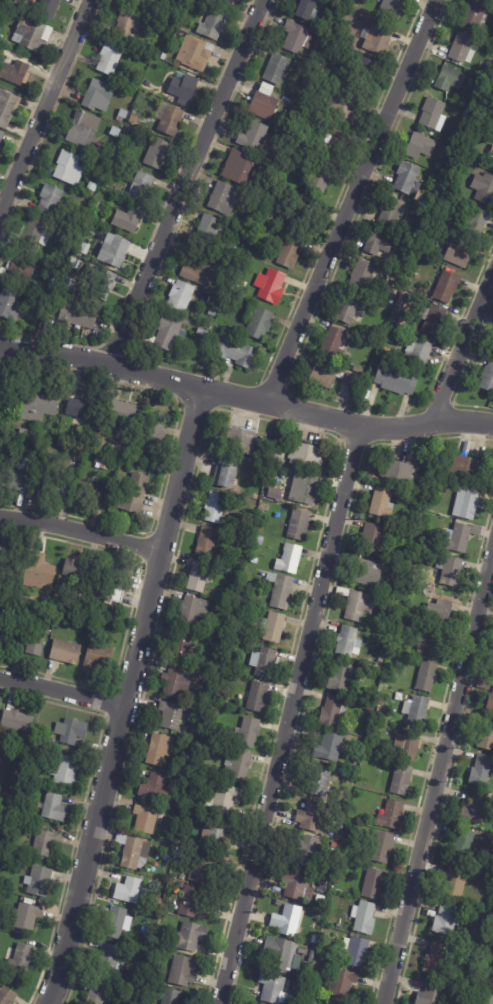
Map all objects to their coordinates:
building: (143, 1)
building: (226, 2)
building: (48, 8)
building: (394, 8)
building: (306, 9)
building: (146, 14)
building: (476, 14)
building: (213, 25)
building: (129, 26)
building: (32, 34)
building: (297, 38)
building: (378, 39)
building: (462, 47)
building: (193, 54)
building: (110, 59)
building: (277, 69)
building: (15, 73)
building: (366, 74)
building: (450, 79)
building: (184, 89)
building: (99, 96)
building: (477, 97)
building: (265, 103)
building: (344, 107)
building: (8, 108)
road: (44, 109)
building: (434, 115)
building: (122, 116)
building: (466, 119)
building: (171, 121)
building: (84, 130)
building: (116, 132)
building: (1, 137)
building: (256, 137)
building: (333, 140)
building: (421, 146)
building: (158, 154)
building: (491, 159)
building: (99, 163)
building: (69, 169)
building: (242, 170)
building: (320, 178)
building: (408, 178)
road: (190, 182)
building: (93, 187)
building: (142, 188)
building: (484, 189)
building: (274, 198)
building: (223, 199)
building: (50, 201)
road: (357, 201)
building: (297, 212)
building: (391, 212)
building: (442, 217)
building: (128, 221)
building: (475, 223)
building: (207, 231)
building: (33, 234)
building: (283, 236)
building: (87, 240)
building: (379, 243)
building: (114, 251)
building: (290, 253)
building: (458, 255)
building: (246, 261)
building: (22, 268)
building: (200, 274)
building: (363, 275)
building: (101, 280)
building: (63, 287)
building: (271, 287)
building: (447, 288)
building: (181, 298)
building: (9, 305)
building: (352, 308)
building: (400, 311)
building: (212, 313)
building: (79, 316)
building: (111, 316)
building: (433, 320)
building: (260, 325)
building: (170, 332)
building: (202, 333)
building: (370, 341)
building: (334, 344)
building: (386, 351)
building: (235, 352)
road: (465, 353)
building: (492, 353)
building: (418, 354)
building: (326, 375)
building: (488, 379)
building: (352, 381)
building: (398, 381)
building: (0, 389)
road: (245, 397)
building: (37, 406)
building: (125, 407)
building: (82, 408)
building: (24, 433)
building: (151, 437)
building: (240, 440)
building: (468, 448)
building: (100, 449)
building: (79, 450)
building: (124, 455)
building: (255, 456)
building: (307, 456)
building: (136, 457)
building: (106, 460)
building: (466, 467)
building: (226, 473)
building: (398, 473)
building: (18, 478)
building: (54, 486)
building: (309, 488)
building: (94, 492)
building: (135, 493)
building: (285, 497)
building: (382, 503)
building: (467, 503)
building: (267, 506)
building: (216, 507)
building: (299, 524)
road: (80, 532)
building: (373, 538)
building: (458, 538)
building: (260, 540)
building: (207, 542)
building: (6, 557)
building: (290, 559)
building: (76, 568)
building: (226, 568)
building: (452, 571)
building: (38, 573)
building: (367, 573)
building: (200, 576)
building: (401, 579)
building: (281, 590)
building: (64, 592)
building: (113, 592)
building: (245, 596)
building: (356, 604)
building: (191, 611)
building: (438, 613)
building: (392, 619)
building: (0, 625)
building: (401, 626)
building: (274, 627)
building: (6, 637)
building: (32, 641)
building: (433, 641)
building: (349, 642)
building: (182, 645)
building: (66, 651)
building: (229, 651)
building: (98, 656)
building: (381, 659)
building: (264, 662)
building: (227, 665)
building: (427, 676)
building: (341, 677)
building: (223, 680)
building: (175, 681)
road: (61, 689)
road: (125, 696)
building: (259, 697)
building: (490, 704)
building: (369, 709)
building: (417, 710)
building: (332, 711)
building: (216, 713)
building: (171, 715)
road: (290, 715)
building: (18, 721)
building: (71, 731)
building: (238, 731)
building: (250, 732)
building: (194, 733)
building: (487, 735)
building: (52, 741)
building: (409, 745)
building: (331, 746)
building: (160, 749)
building: (238, 764)
building: (65, 770)
building: (482, 771)
building: (33, 773)
building: (402, 779)
road: (438, 779)
building: (321, 780)
building: (186, 781)
building: (199, 781)
building: (14, 787)
building: (155, 787)
building: (225, 798)
building: (55, 808)
building: (477, 810)
building: (392, 815)
building: (312, 816)
building: (146, 819)
building: (7, 824)
building: (217, 834)
building: (45, 843)
building: (464, 845)
building: (334, 846)
building: (383, 847)
building: (309, 849)
building: (135, 853)
building: (344, 853)
building: (18, 854)
building: (202, 867)
building: (489, 876)
building: (183, 878)
building: (40, 882)
building: (456, 883)
building: (374, 884)
building: (297, 885)
building: (130, 890)
building: (320, 896)
building: (159, 903)
building: (192, 903)
building: (280, 903)
building: (142, 907)
building: (27, 917)
building: (365, 918)
building: (287, 920)
building: (447, 921)
building: (116, 923)
building: (490, 932)
building: (189, 937)
building: (314, 939)
building: (334, 949)
building: (359, 951)
building: (303, 952)
building: (281, 953)
building: (313, 953)
building: (320, 956)
building: (436, 958)
building: (21, 959)
building: (111, 960)
building: (338, 960)
building: (298, 963)
building: (182, 972)
building: (343, 984)
building: (276, 989)
building: (98, 993)
building: (434, 995)
building: (7, 996)
building: (171, 997)
building: (486, 997)

